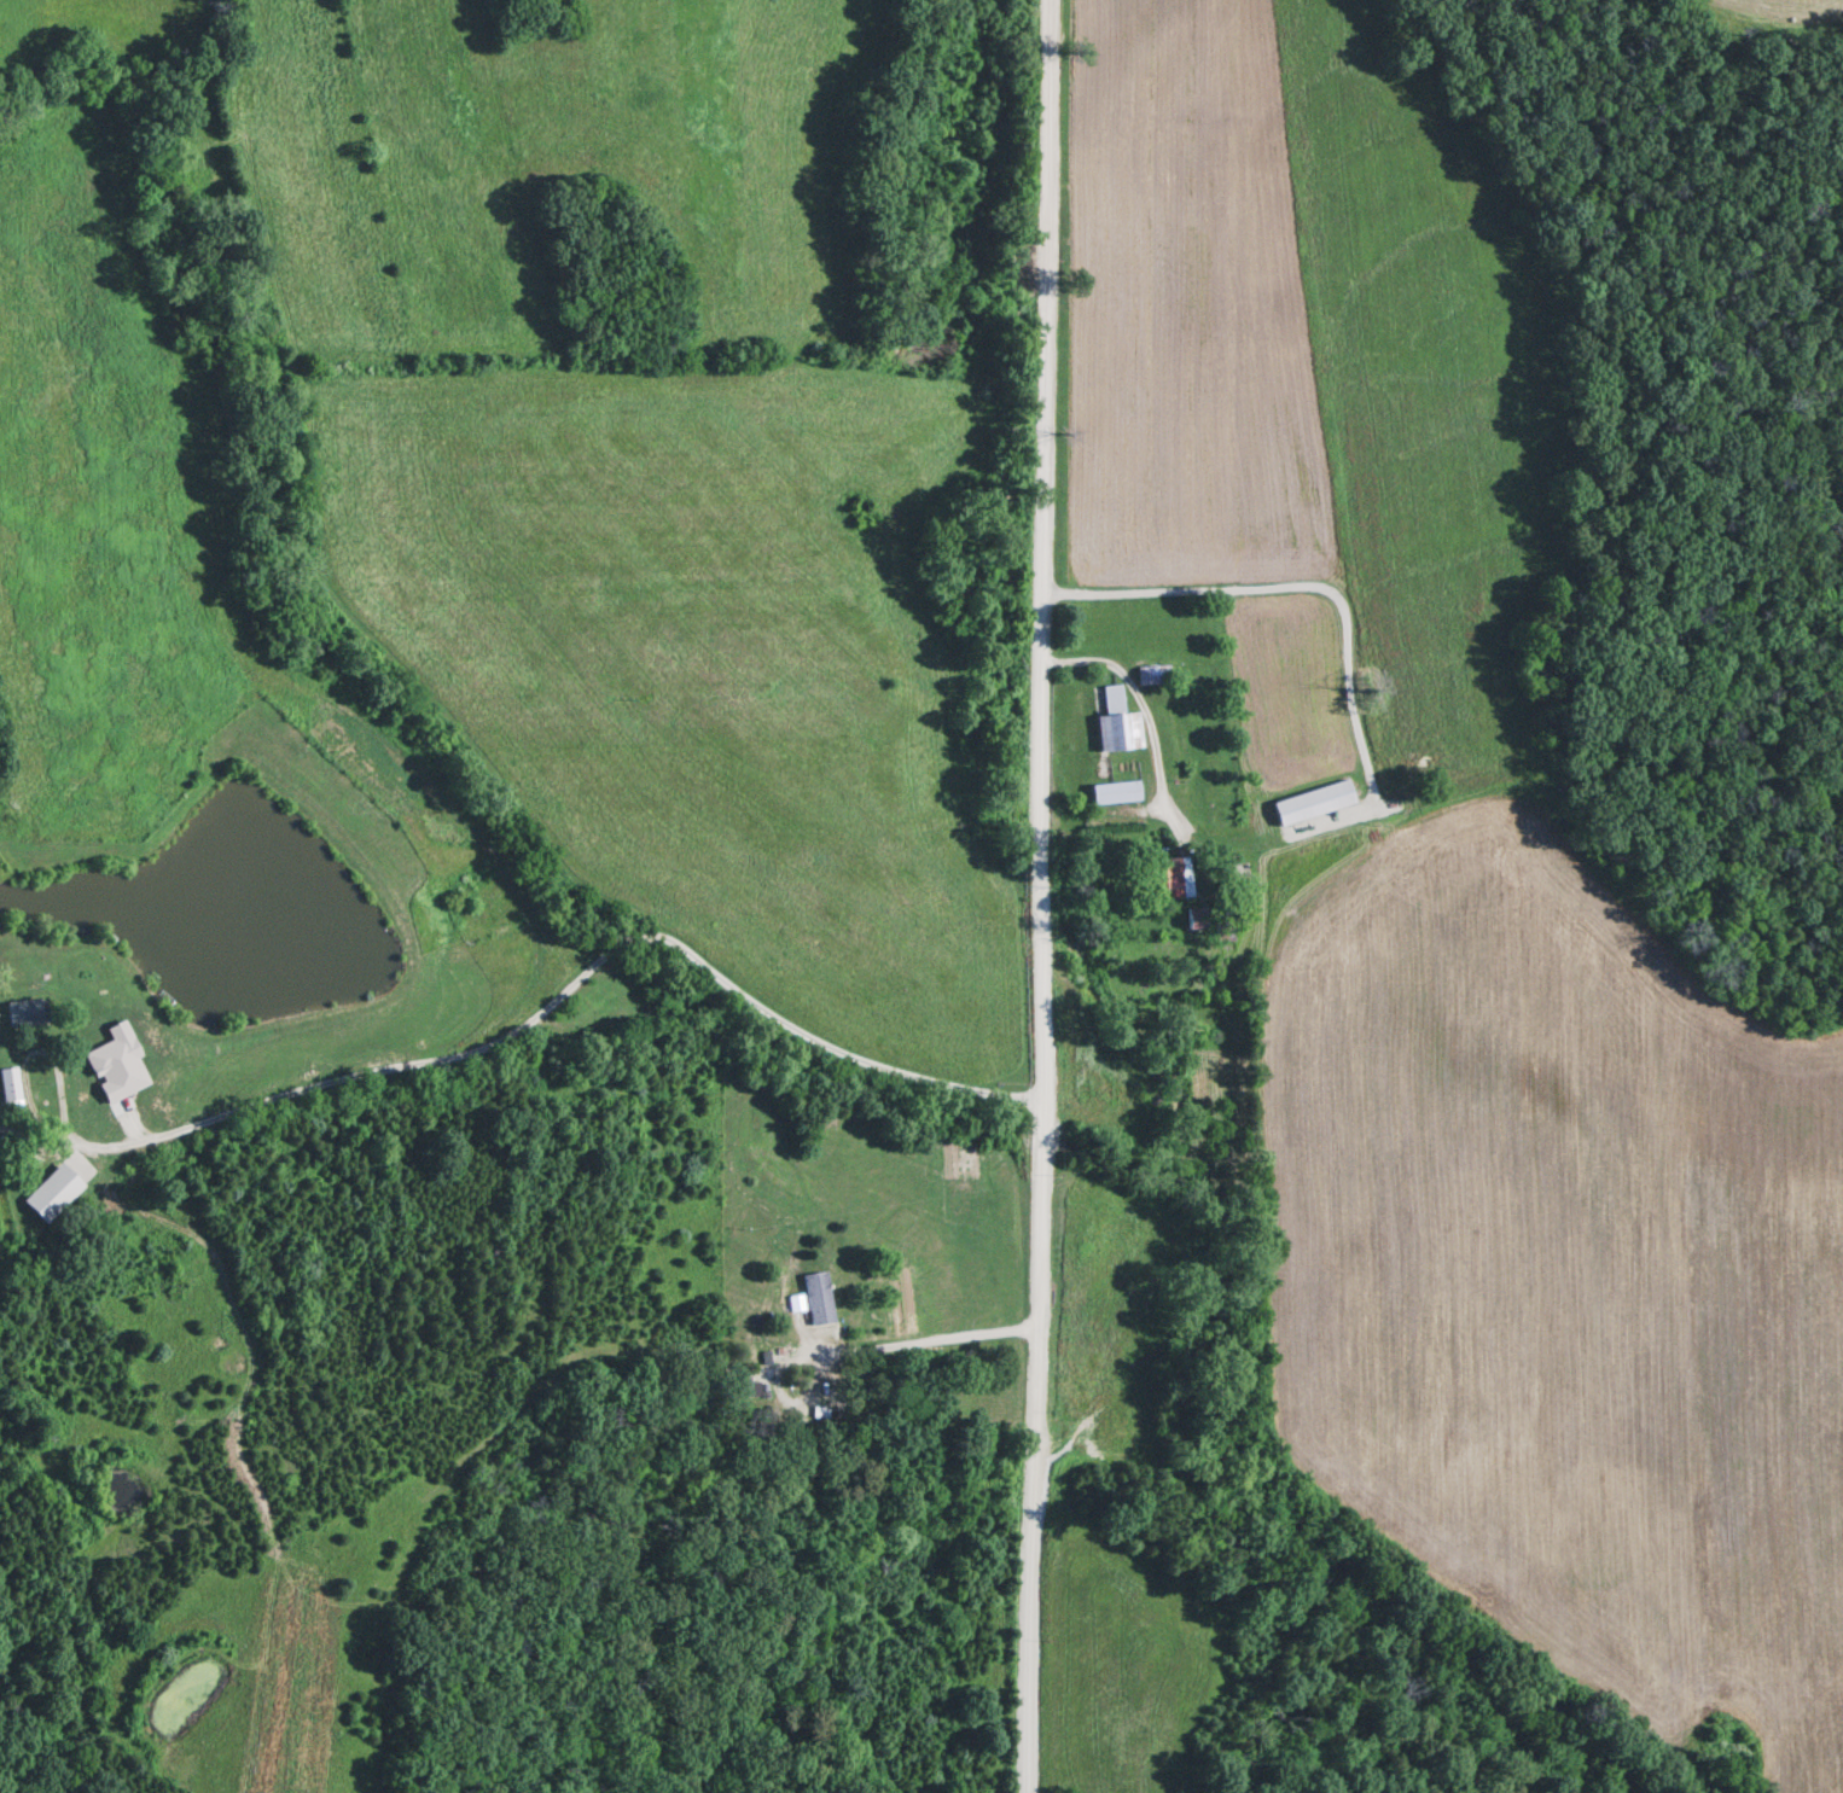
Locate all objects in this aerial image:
building: (1149, 676)
building: (1114, 726)
road: (1368, 781)
building: (1110, 794)
building: (1308, 804)
building: (1164, 879)
road: (581, 891)
road: (1034, 896)
building: (1222, 935)
building: (27, 1013)
road: (539, 1017)
building: (112, 1049)
building: (66, 1171)
building: (815, 1302)

